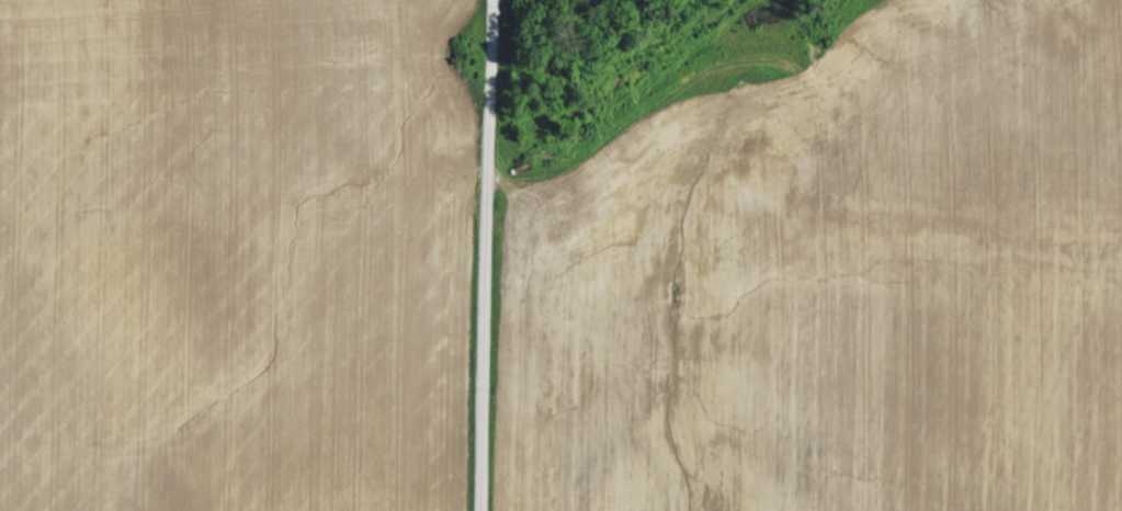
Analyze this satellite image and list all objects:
road: (487, 256)

